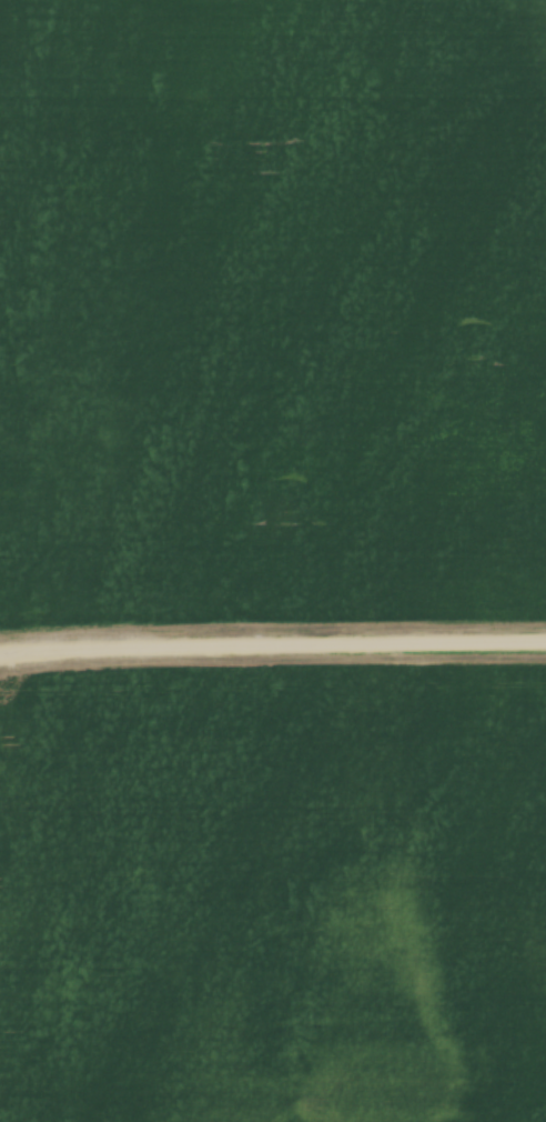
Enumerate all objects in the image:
road: (272, 641)

